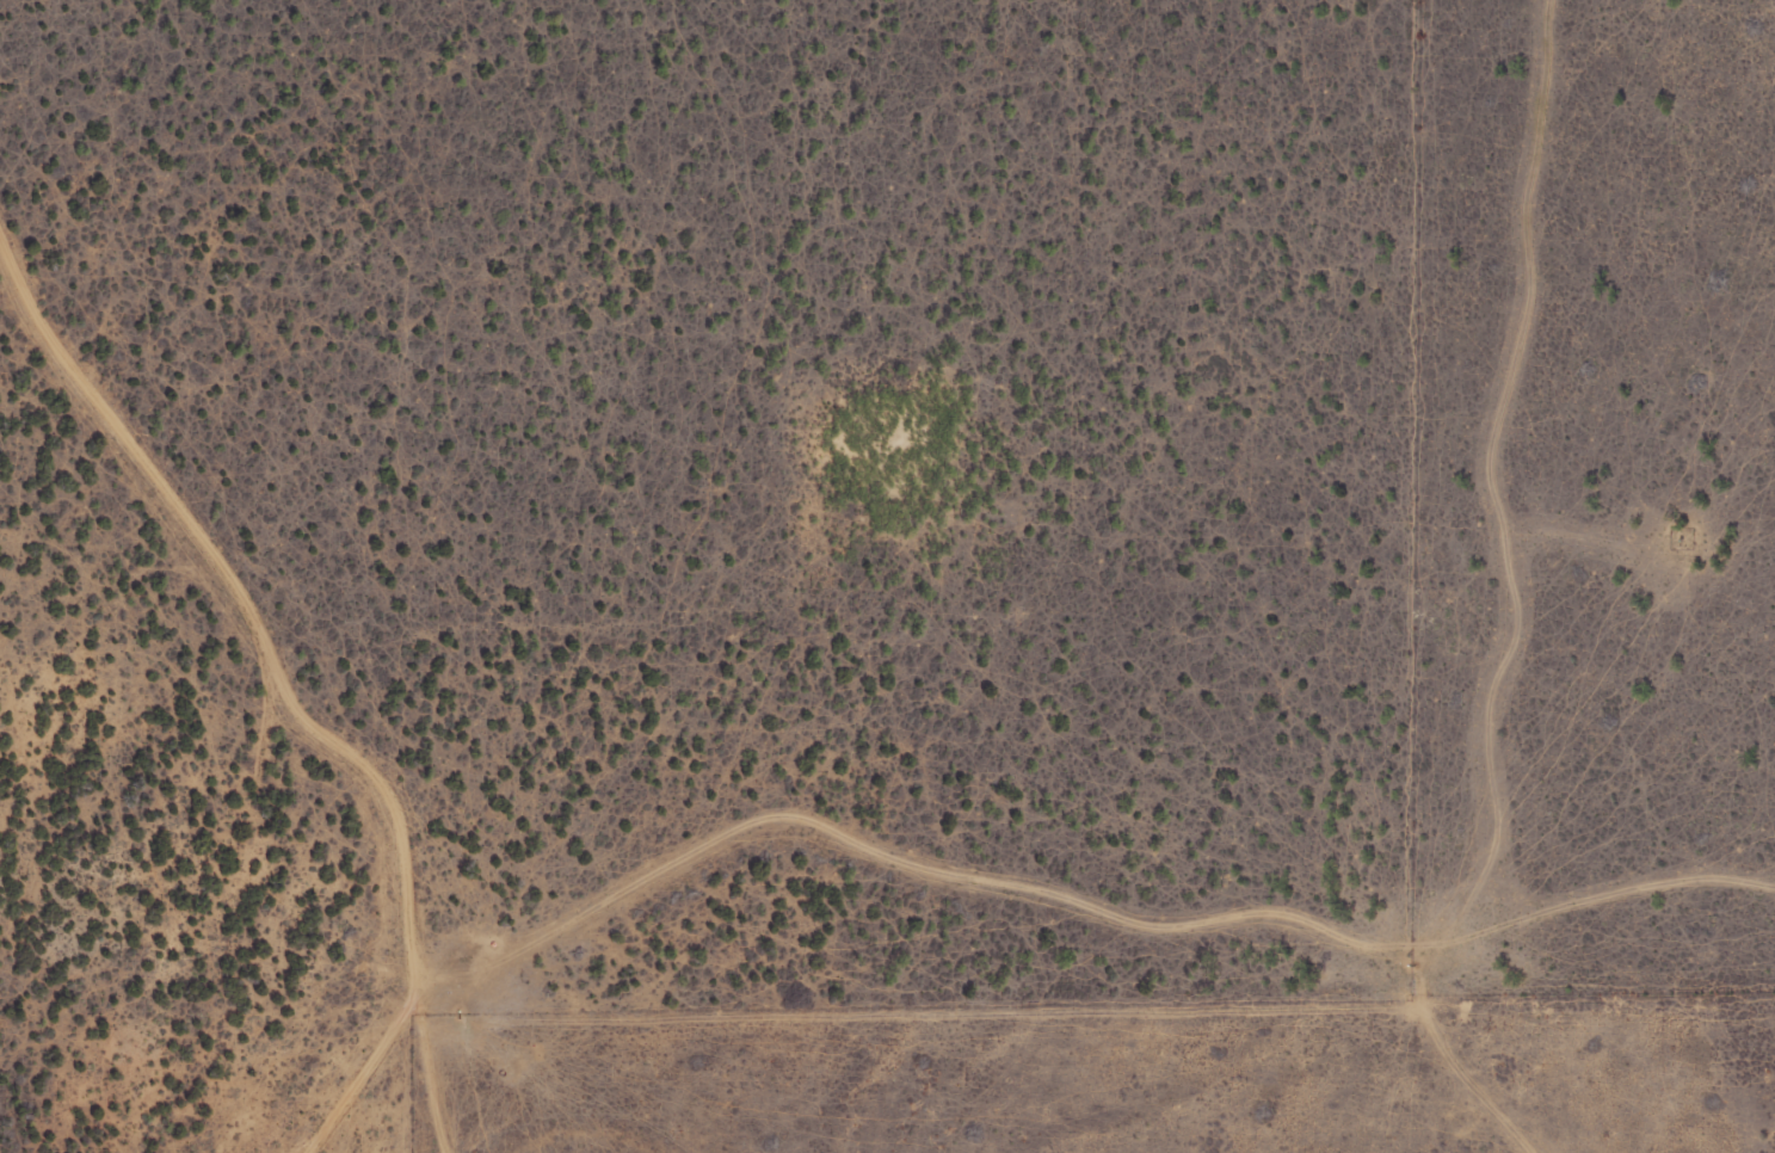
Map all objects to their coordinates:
road: (1444, 499)
road: (276, 668)
road: (296, 1054)

